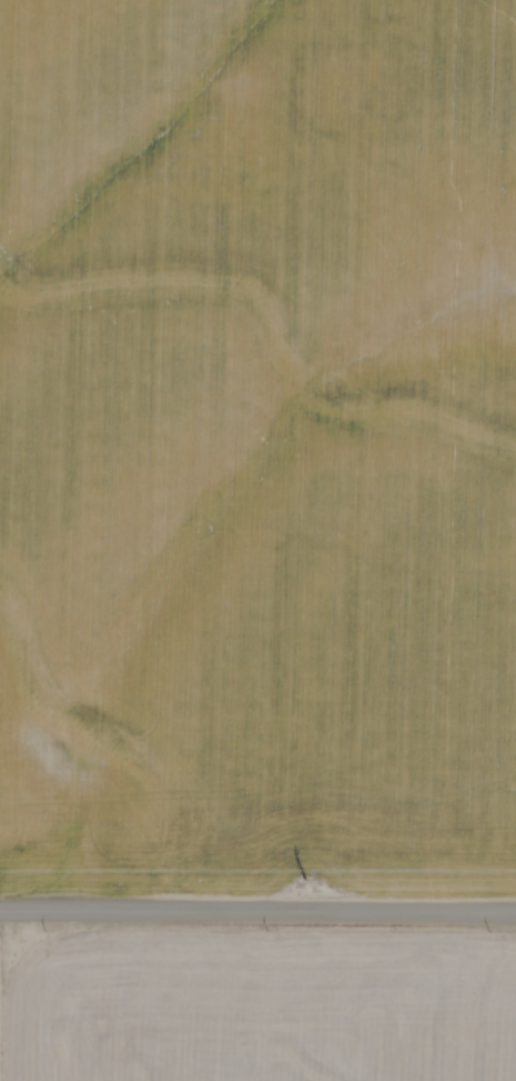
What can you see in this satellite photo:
road: (257, 909)

